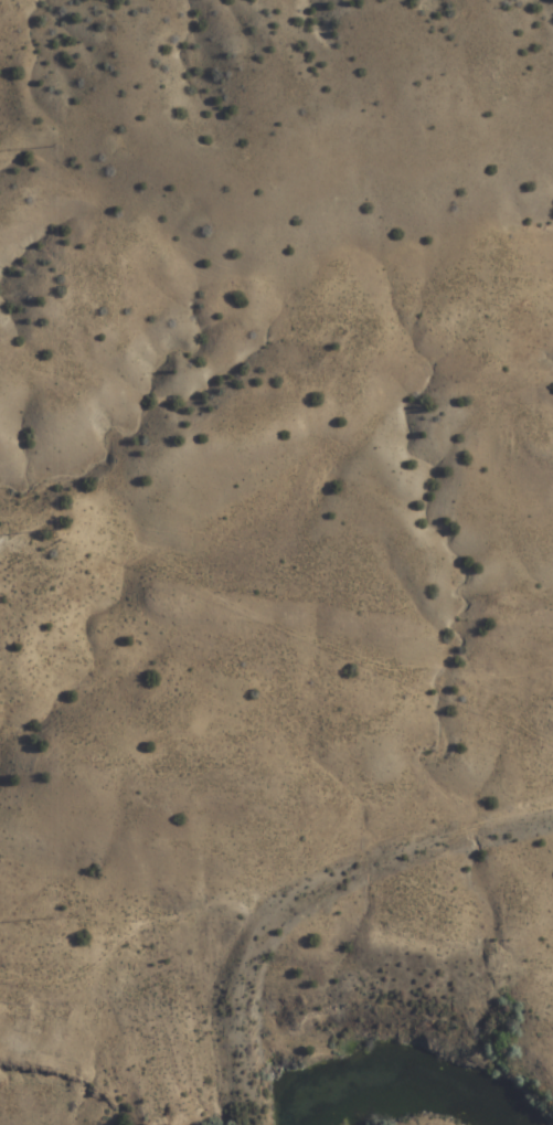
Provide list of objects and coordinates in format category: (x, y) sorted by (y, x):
river: (390, 1083)

